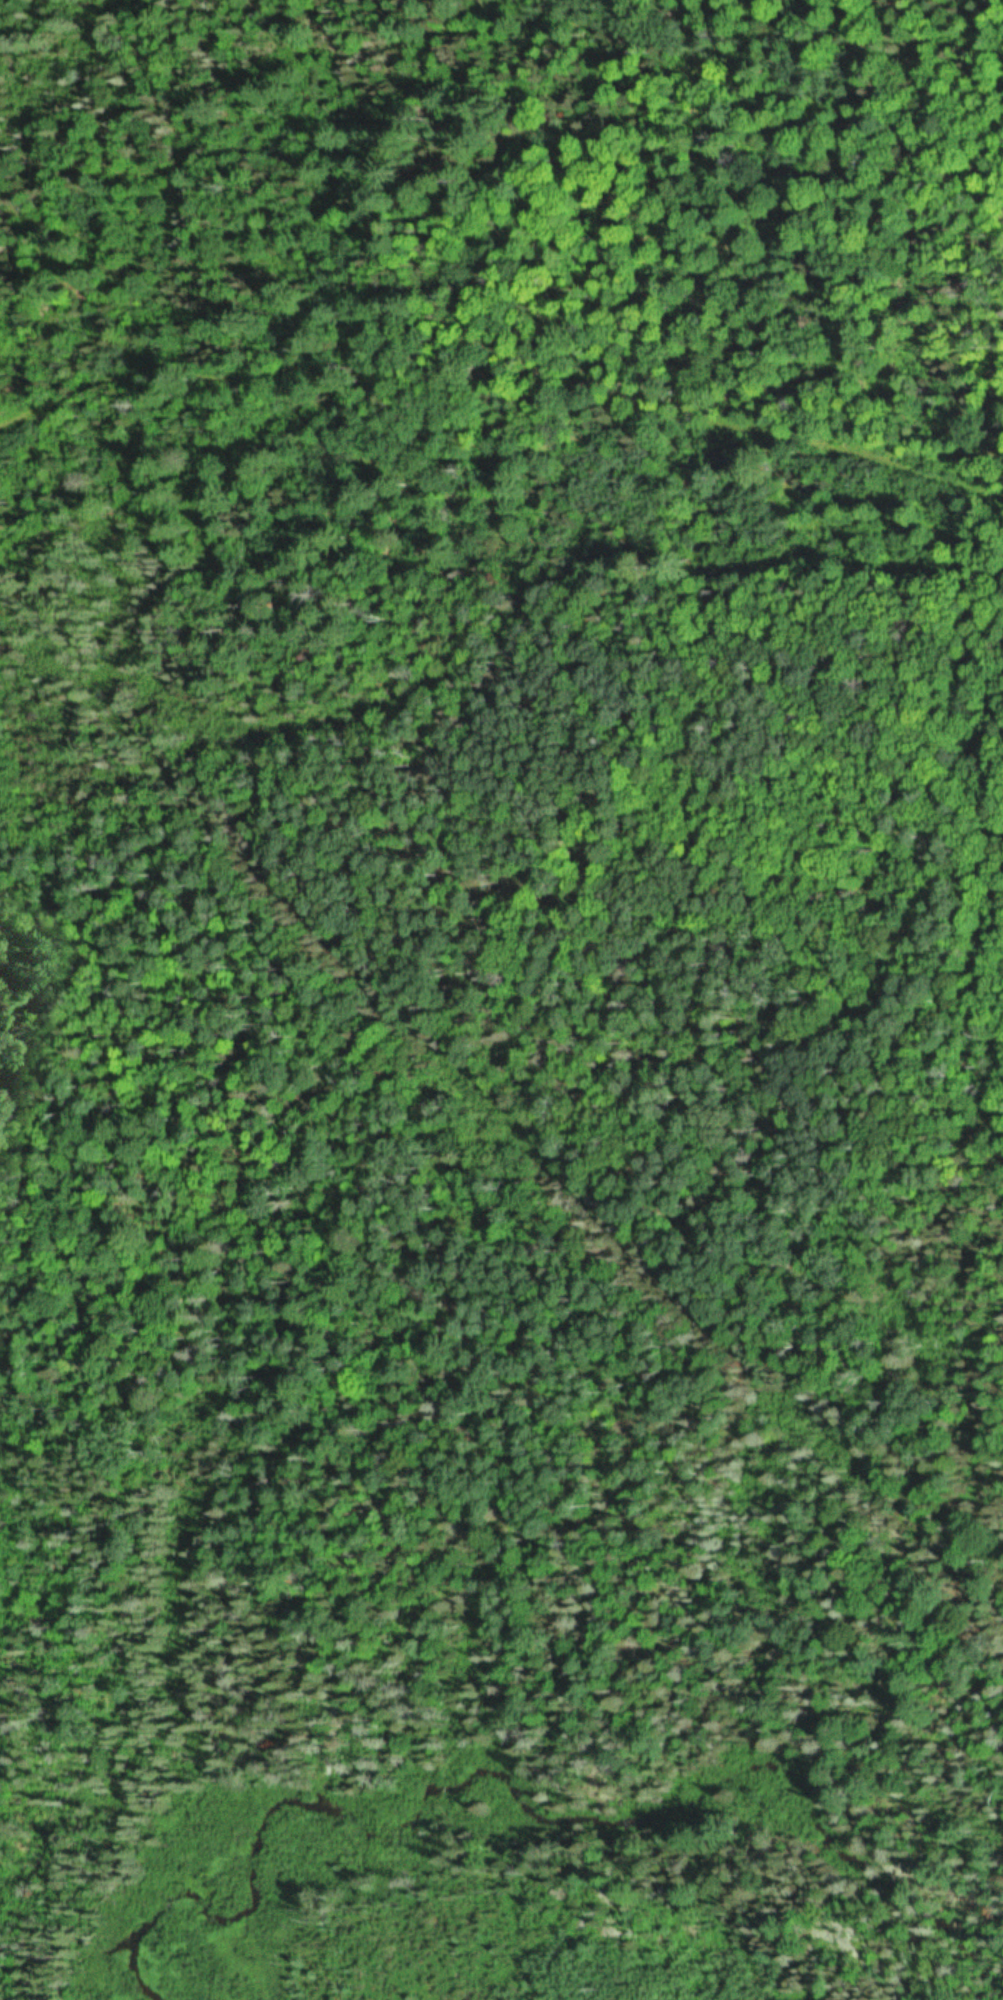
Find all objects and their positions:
road: (487, 1967)

